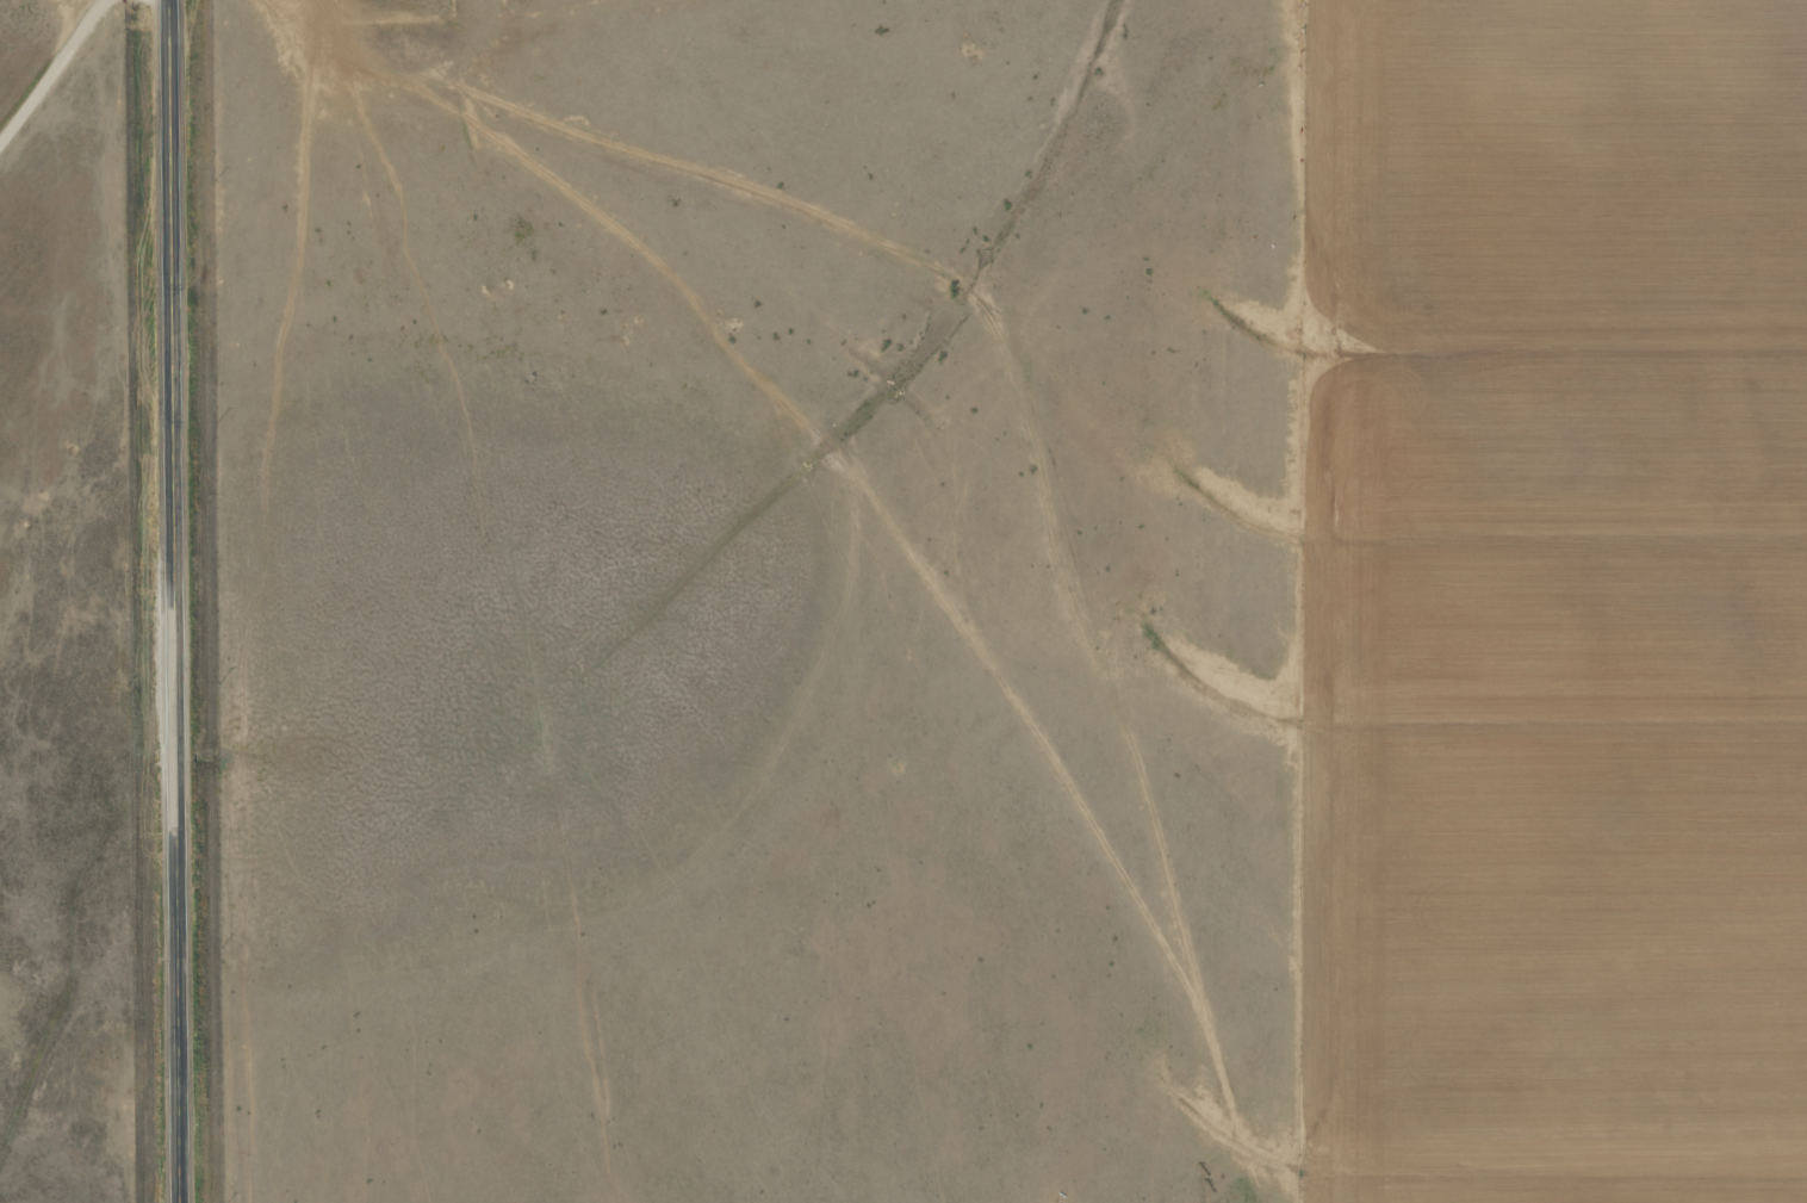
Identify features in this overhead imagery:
road: (169, 601)

